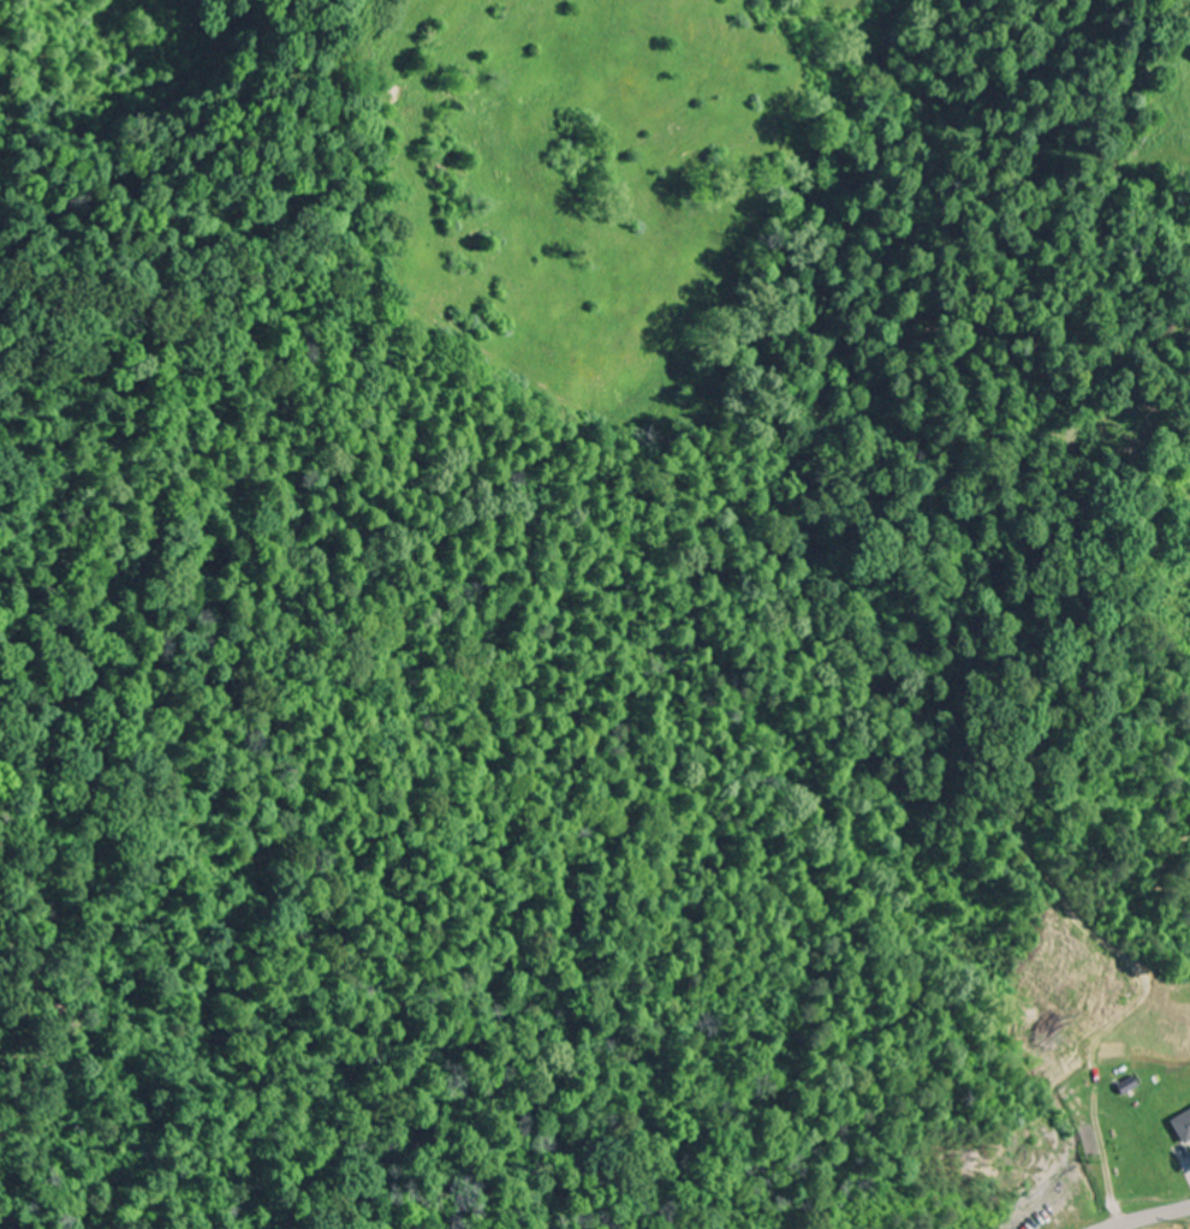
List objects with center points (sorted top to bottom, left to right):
building: (1125, 1087)
building: (1180, 1124)
road: (1150, 1217)

